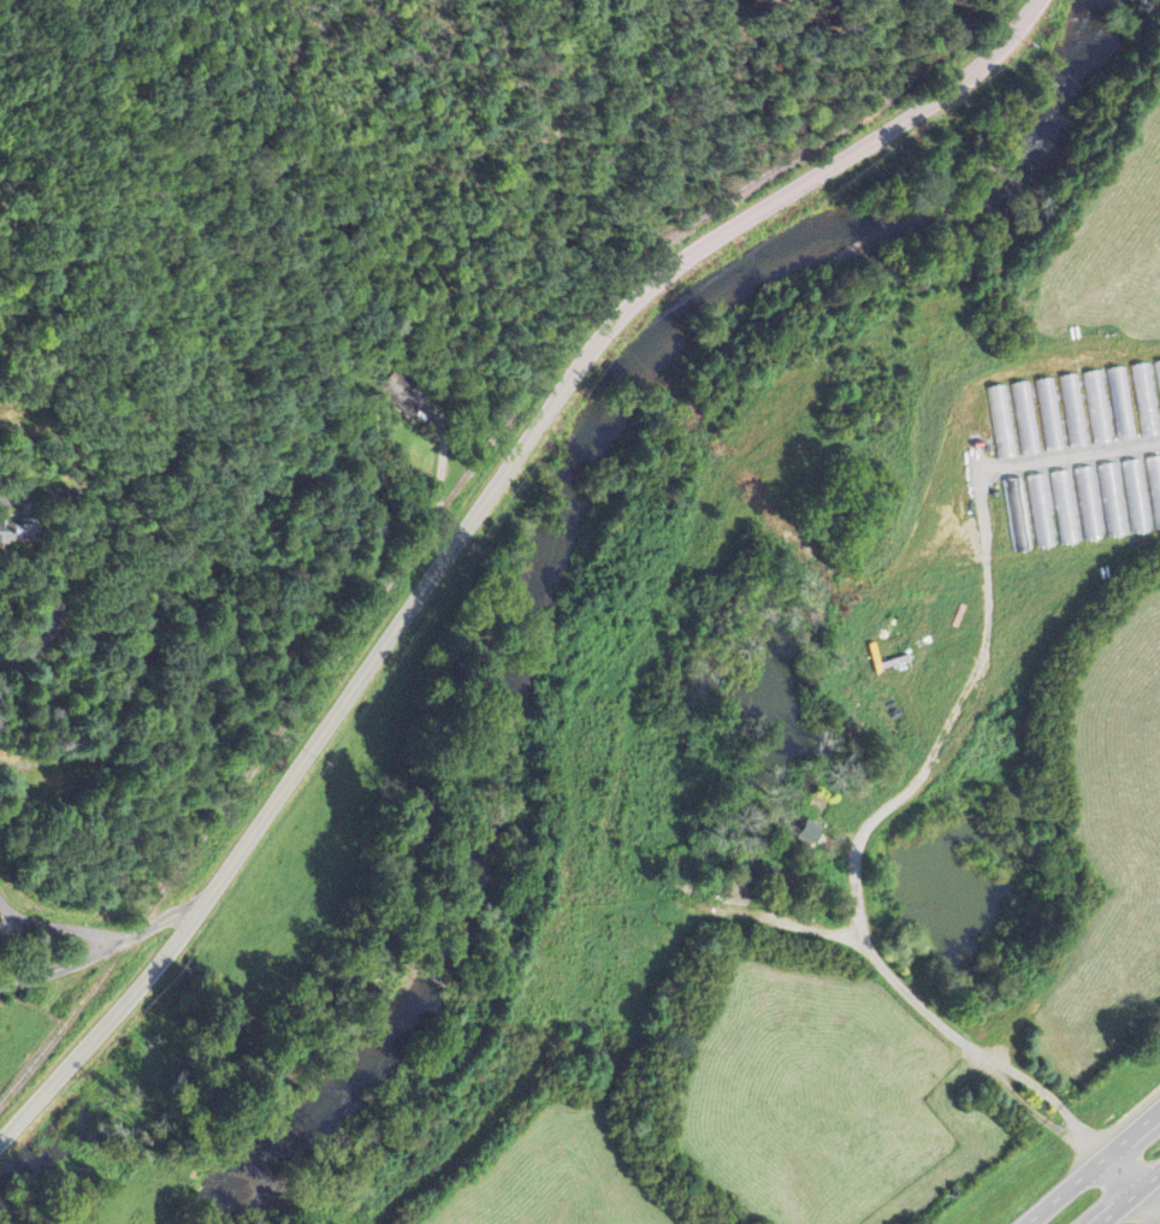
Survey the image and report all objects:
building: (408, 400)
railway: (442, 502)
road: (472, 520)
building: (6, 531)
river: (605, 555)
building: (809, 833)
road: (100, 948)
road: (1091, 1165)
road: (1135, 1177)
road: (1125, 1194)

